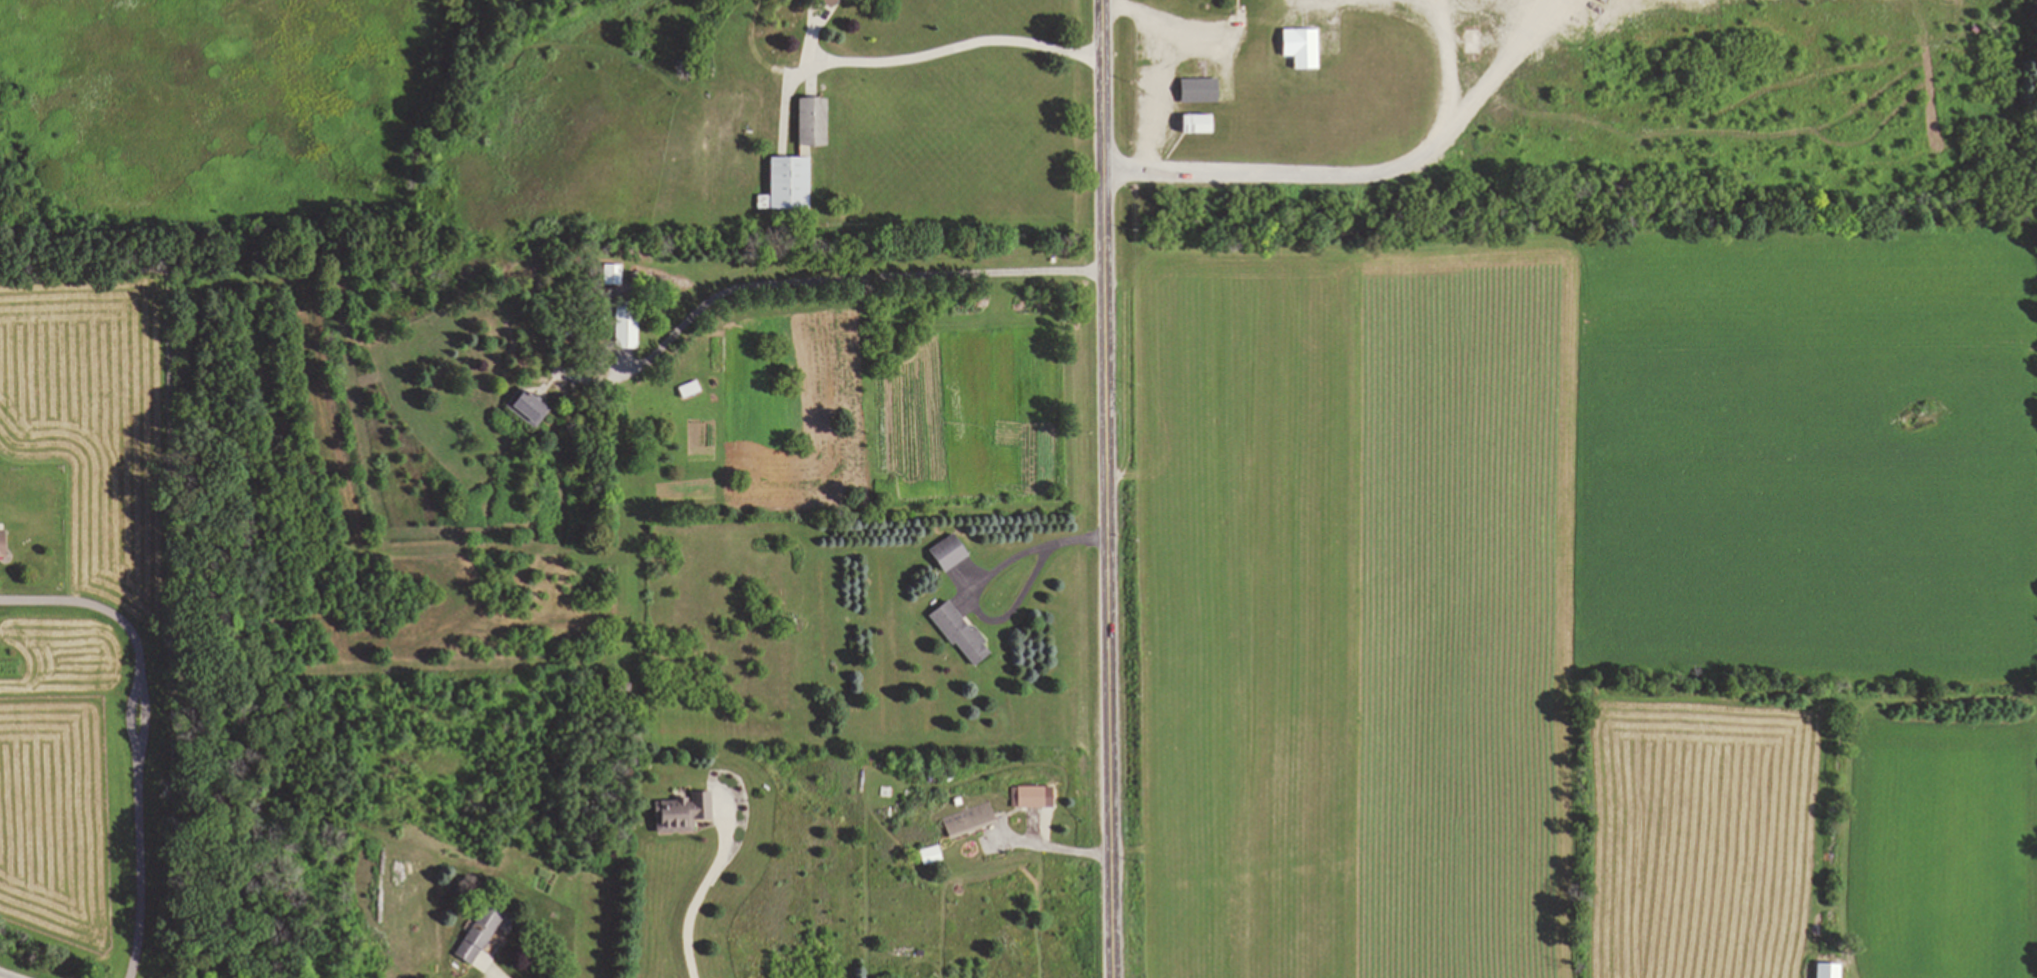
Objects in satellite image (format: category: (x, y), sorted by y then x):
building: (836, 3)
building: (1468, 41)
road: (956, 47)
building: (1298, 70)
building: (1193, 91)
building: (1191, 125)
building: (806, 159)
building: (617, 276)
road: (817, 279)
building: (630, 325)
building: (695, 390)
building: (533, 408)
road: (1106, 488)
building: (7, 545)
building: (955, 553)
road: (137, 732)
building: (1034, 797)
building: (686, 813)
building: (976, 819)
road: (696, 895)
building: (486, 934)
road: (493, 969)
building: (1822, 970)

